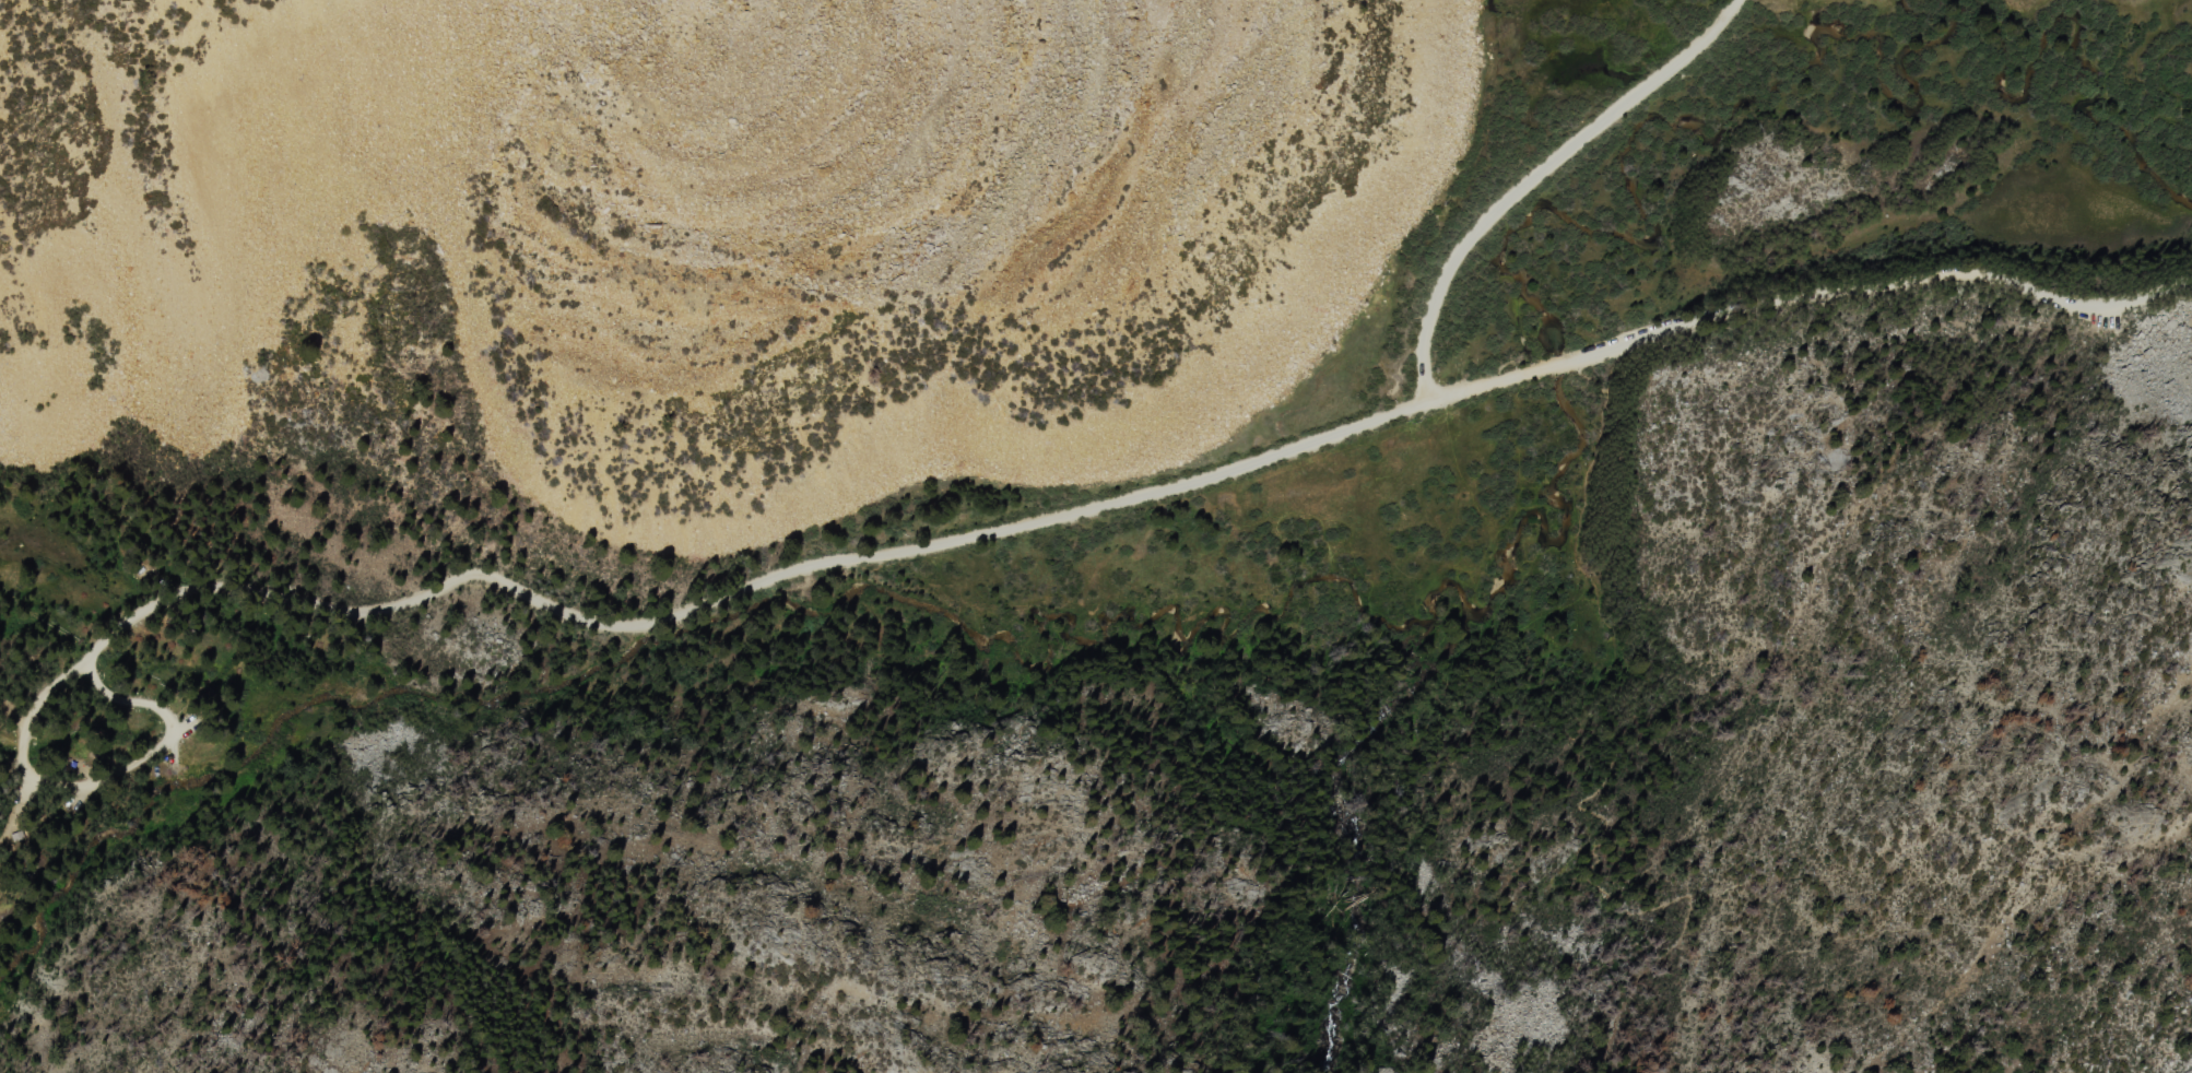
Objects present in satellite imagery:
road: (1536, 175)
parking lot: (2105, 322)
road: (1127, 503)
road: (1817, 564)
road: (32, 719)
road: (165, 745)
road: (10, 762)
road: (1610, 768)

